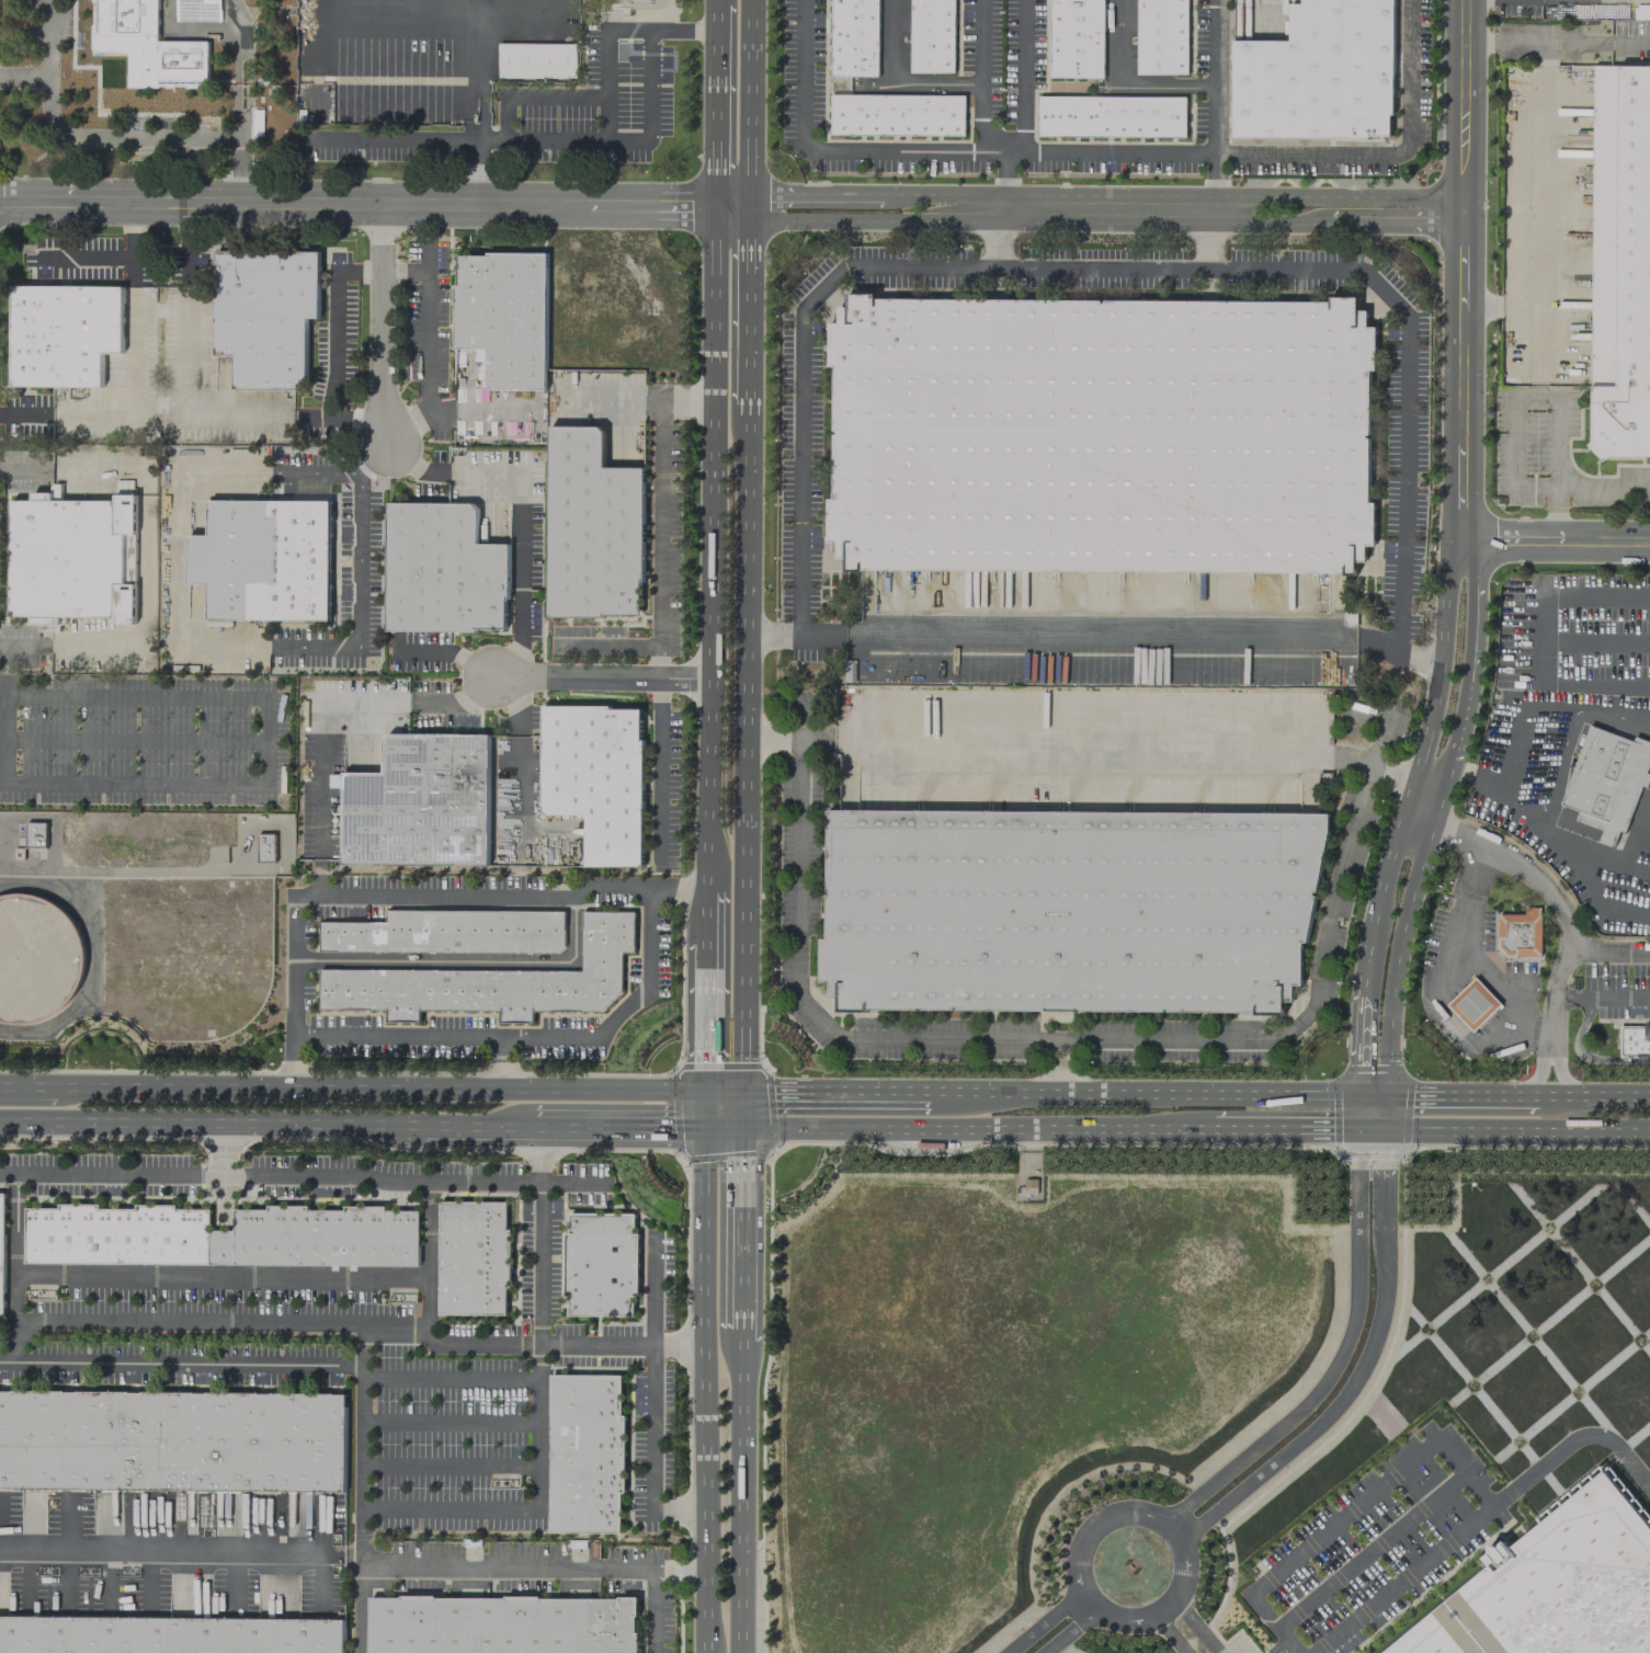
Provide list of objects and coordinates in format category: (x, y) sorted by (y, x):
road: (718, 8)
road: (522, 9)
road: (478, 22)
road: (200, 30)
building: (931, 35)
building: (1161, 36)
building: (854, 37)
road: (47, 38)
building: (1074, 38)
road: (1573, 41)
road: (1480, 42)
building: (147, 45)
building: (536, 59)
building: (1318, 73)
road: (1023, 76)
road: (980, 77)
road: (1214, 77)
road: (894, 84)
road: (1124, 84)
road: (604, 91)
road: (750, 103)
road: (648, 104)
road: (717, 110)
building: (897, 114)
building: (1110, 116)
road: (129, 136)
road: (394, 138)
road: (839, 150)
road: (1118, 152)
road: (1385, 153)
road: (1536, 172)
road: (1004, 180)
road: (1215, 181)
road: (730, 206)
road: (994, 238)
road: (1203, 239)
road: (84, 258)
building: (1619, 262)
road: (942, 266)
road: (748, 304)
building: (264, 315)
building: (503, 315)
road: (1535, 315)
road: (382, 322)
building: (64, 333)
road: (426, 347)
road: (332, 352)
road: (687, 397)
road: (1514, 399)
road: (158, 406)
road: (254, 410)
road: (68, 414)
building: (1100, 434)
road: (403, 457)
road: (317, 475)
road: (521, 479)
road: (1406, 483)
road: (1603, 489)
road: (1555, 514)
building: (592, 527)
road: (714, 539)
road: (1556, 539)
road: (1461, 552)
road: (143, 556)
building: (70, 558)
building: (263, 558)
road: (177, 560)
building: (442, 569)
road: (659, 574)
road: (359, 580)
road: (520, 616)
road: (766, 634)
road: (816, 635)
road: (1100, 637)
road: (1541, 641)
road: (1380, 646)
road: (424, 652)
road: (504, 660)
road: (658, 660)
road: (1430, 662)
road: (473, 664)
road: (601, 675)
road: (476, 689)
road: (503, 691)
road: (657, 691)
road: (1549, 705)
road: (1614, 716)
road: (519, 721)
road: (320, 726)
road: (772, 734)
road: (1377, 736)
road: (1512, 739)
road: (742, 748)
road: (1117, 749)
road: (1454, 764)
road: (1557, 767)
road: (1488, 773)
road: (1398, 774)
building: (595, 776)
building: (1606, 778)
building: (334, 779)
road: (657, 785)
building: (419, 802)
road: (517, 814)
building: (34, 834)
road: (1577, 840)
building: (264, 846)
road: (403, 893)
road: (1557, 899)
road: (709, 903)
building: (1068, 909)
building: (447, 932)
building: (1521, 932)
road: (1458, 948)
road: (1608, 950)
road: (708, 955)
building: (36, 958)
storage tank: (36, 958)
road: (462, 961)
building: (491, 981)
road: (1601, 998)
building: (1473, 1003)
road: (707, 1034)
road: (532, 1039)
road: (1031, 1039)
road: (1060, 1039)
building: (1636, 1040)
road: (499, 1067)
road: (1539, 1076)
road: (1560, 1076)
road: (27, 1086)
road: (399, 1092)
traffic signals: (707, 1095)
traffic signals: (743, 1095)
road: (772, 1095)
road: (864, 1095)
road: (1151, 1095)
road: (1407, 1095)
road: (1489, 1095)
road: (1593, 1096)
road: (743, 1113)
road: (707, 1114)
road: (210, 1125)
road: (959, 1128)
road: (478, 1129)
road: (1256, 1129)
road: (1336, 1129)
road: (587, 1130)
road: (673, 1131)
traffic signals: (743, 1131)
road: (1512, 1131)
traffic signals: (707, 1132)
road: (537, 1143)
road: (224, 1150)
road: (303, 1174)
road: (428, 1229)
road: (742, 1230)
building: (219, 1236)
road: (16, 1246)
building: (1, 1255)
building: (473, 1256)
building: (601, 1264)
road: (246, 1276)
road: (653, 1289)
road: (741, 1335)
road: (532, 1344)
road: (680, 1344)
road: (1354, 1350)
road: (8, 1360)
road: (106, 1361)
road: (450, 1378)
road: (706, 1392)
road: (450, 1421)
road: (652, 1430)
road: (537, 1433)
building: (171, 1440)
road: (1571, 1440)
building: (584, 1452)
road: (450, 1466)
road: (739, 1497)
road: (679, 1507)
road: (1345, 1512)
road: (1173, 1534)
road: (1368, 1550)
road: (180, 1551)
road: (551, 1565)
road: (680, 1569)
road: (1402, 1578)
building: (1554, 1587)
building: (500, 1625)
road: (1196, 1626)
road: (1057, 1627)
road: (1170, 1633)
building: (168, 1634)
road: (1274, 1645)
road: (1291, 1652)
road: (1294, 1652)

